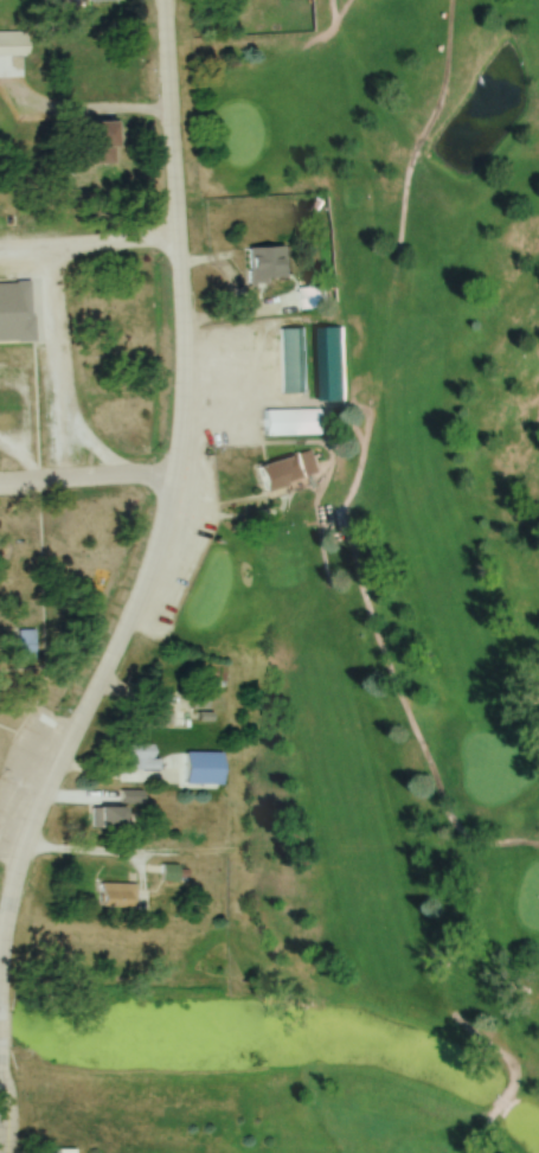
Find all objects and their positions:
building: (102, 0)
building: (13, 44)
road: (88, 250)
building: (269, 264)
building: (314, 300)
building: (17, 313)
building: (294, 359)
building: (333, 361)
road: (66, 398)
building: (295, 422)
building: (287, 469)
road: (71, 480)
road: (169, 500)
park: (379, 540)
building: (156, 717)
building: (140, 757)
building: (116, 811)
building: (168, 873)
building: (116, 895)
road: (503, 1106)

